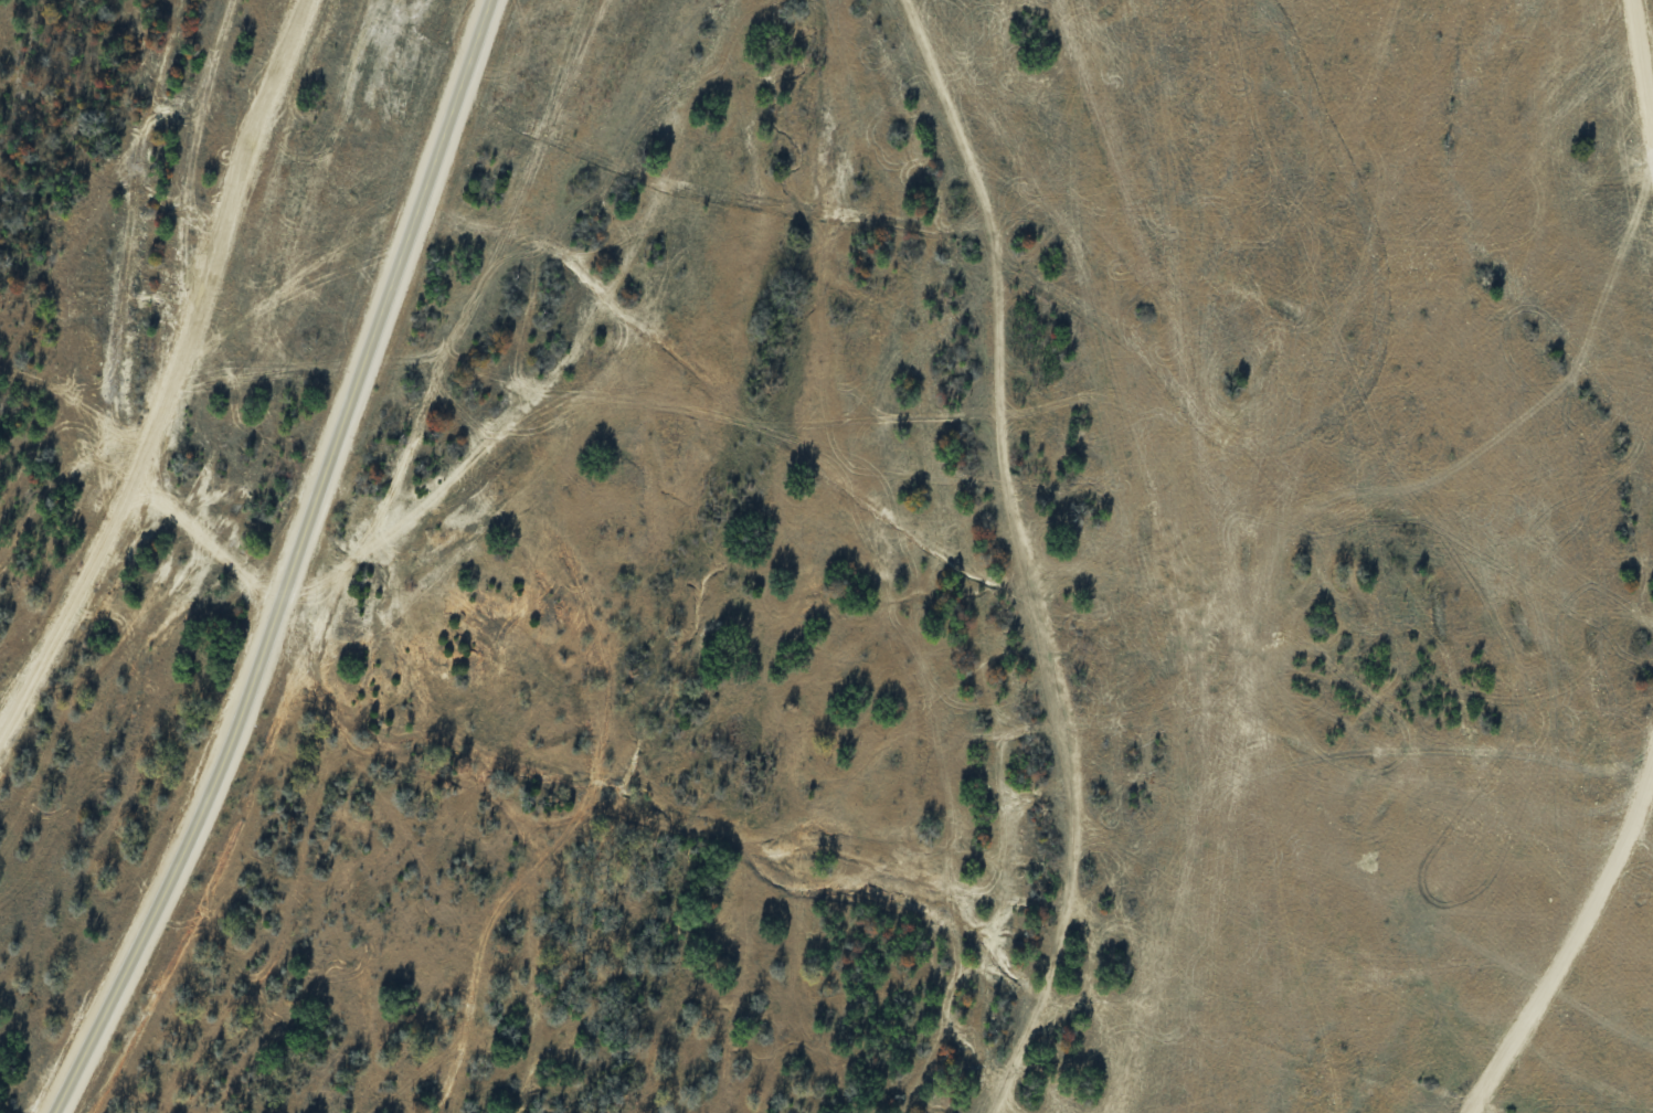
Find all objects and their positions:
road: (1643, 65)
road: (170, 381)
road: (297, 564)
road: (1571, 948)

